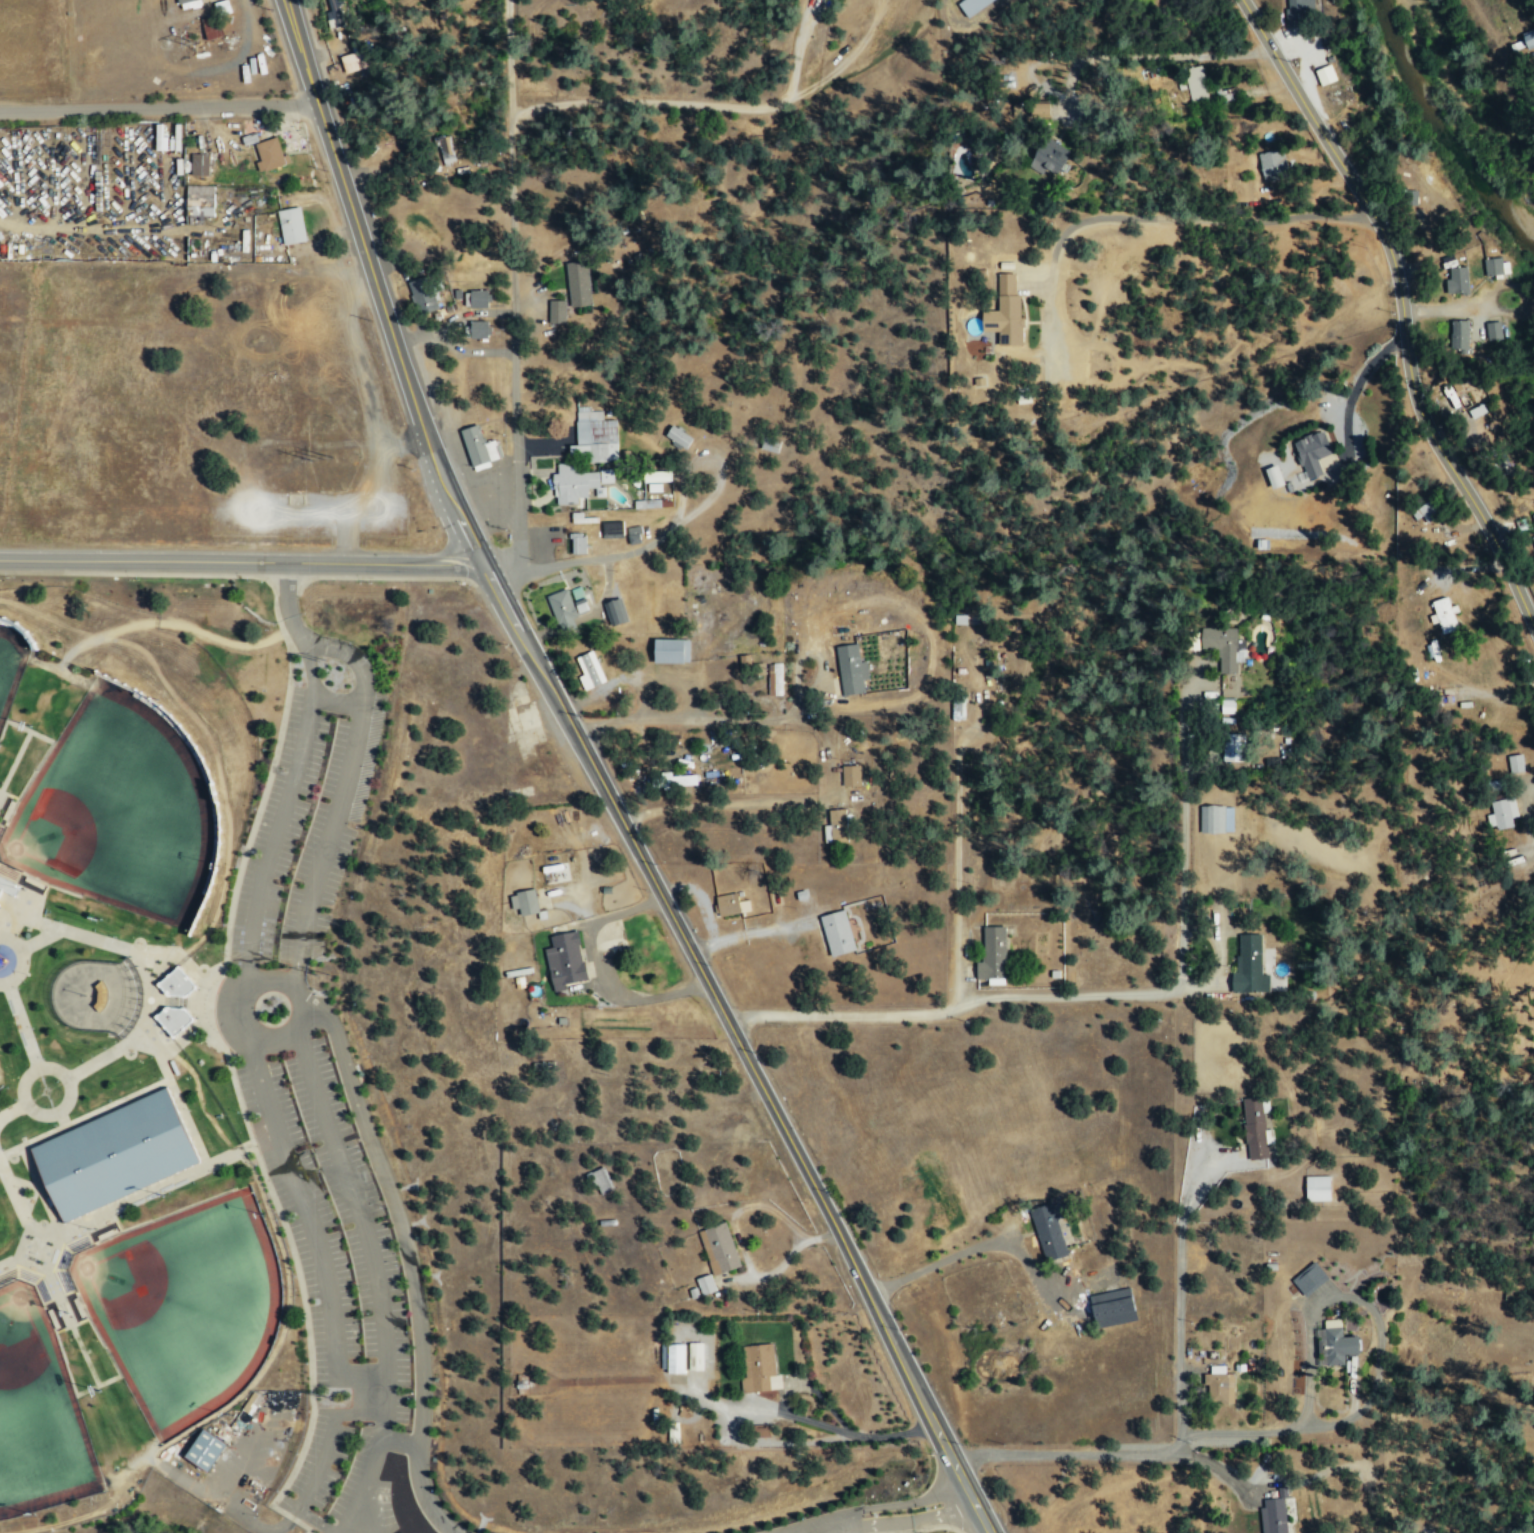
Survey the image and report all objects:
building: (188, 3)
building: (221, 6)
building: (1300, 11)
building: (336, 13)
building: (211, 26)
building: (1529, 38)
power tower: (194, 42)
building: (354, 61)
building: (1325, 75)
building: (1195, 83)
road: (694, 103)
road: (157, 105)
building: (1041, 110)
river: (1442, 127)
building: (270, 153)
building: (1049, 157)
building: (199, 164)
building: (1272, 164)
building: (199, 200)
building: (291, 225)
building: (1496, 267)
building: (1457, 280)
building: (578, 284)
road: (375, 285)
building: (424, 295)
building: (476, 299)
road: (513, 299)
road: (1402, 307)
building: (557, 311)
building: (1008, 312)
building: (479, 329)
building: (1493, 330)
building: (1459, 335)
building: (1477, 410)
building: (595, 435)
building: (678, 436)
building: (770, 445)
building: (479, 448)
building: (1312, 452)
power tower: (322, 458)
building: (1274, 476)
building: (656, 477)
building: (579, 482)
building: (654, 487)
building: (647, 504)
building: (1425, 511)
building: (1533, 516)
building: (582, 518)
road: (675, 526)
building: (634, 535)
building: (577, 543)
road: (240, 562)
road: (287, 603)
building: (567, 606)
building: (615, 610)
building: (1445, 614)
building: (959, 619)
building: (1225, 645)
building: (668, 650)
road: (289, 653)
power tower: (321, 660)
park: (11, 662)
building: (589, 669)
building: (851, 669)
building: (775, 680)
road: (336, 699)
road: (8, 721)
building: (1233, 746)
road: (15, 761)
building: (1515, 763)
road: (35, 768)
building: (851, 775)
building: (678, 779)
road: (340, 795)
park: (116, 810)
road: (282, 810)
building: (1501, 813)
building: (1216, 818)
building: (837, 825)
building: (8, 885)
building: (524, 901)
building: (731, 904)
road: (27, 917)
building: (837, 932)
road: (121, 946)
building: (992, 955)
road: (21, 959)
building: (564, 959)
building: (1249, 964)
power tower: (324, 973)
building: (176, 983)
road: (199, 990)
building: (100, 995)
road: (233, 997)
road: (1075, 998)
building: (173, 1019)
road: (22, 1024)
road: (740, 1046)
road: (233, 1078)
road: (172, 1084)
road: (11, 1109)
road: (53, 1112)
road: (84, 1117)
building: (184, 1118)
road: (61, 1121)
building: (1256, 1127)
parking lot: (330, 1138)
building: (114, 1154)
building: (602, 1180)
building: (1317, 1188)
road: (41, 1189)
road: (27, 1191)
road: (168, 1198)
road: (355, 1200)
road: (81, 1223)
road: (313, 1228)
building: (1048, 1228)
building: (719, 1248)
road: (408, 1254)
road: (18, 1256)
building: (1310, 1278)
building: (706, 1284)
park: (185, 1305)
building: (1113, 1307)
building: (1337, 1343)
road: (309, 1348)
building: (695, 1356)
building: (675, 1358)
building: (759, 1368)
road: (117, 1370)
building: (1219, 1384)
power tower: (326, 1397)
park: (37, 1411)
road: (400, 1440)
building: (205, 1449)
road: (376, 1451)
road: (322, 1461)
road: (907, 1501)
building: (1274, 1513)
road: (913, 1520)
parking lot: (823, 1523)
road: (354, 1524)
road: (819, 1525)
road: (850, 1525)
road: (935, 1526)
road: (888, 1532)

